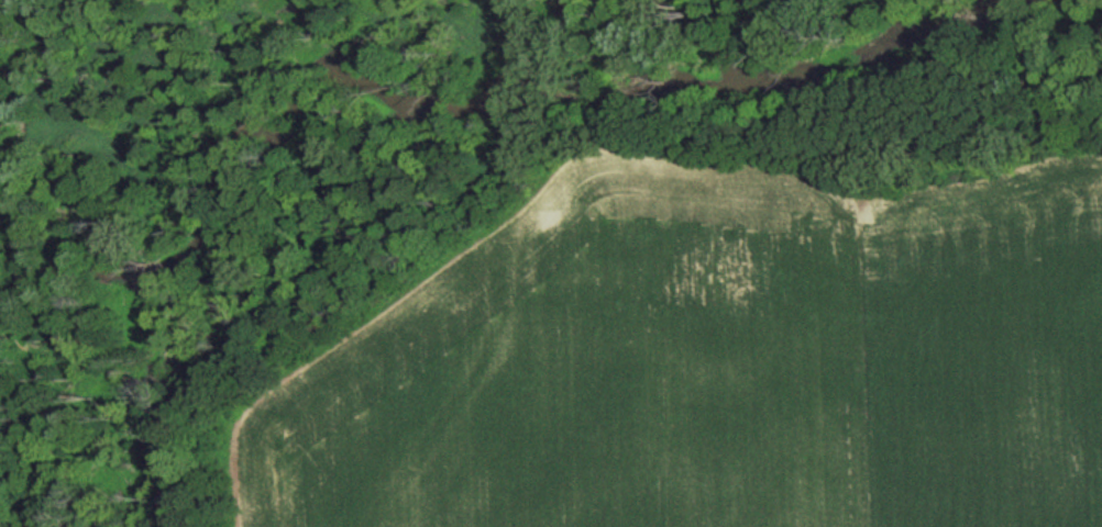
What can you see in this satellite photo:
crop: (699, 361)

